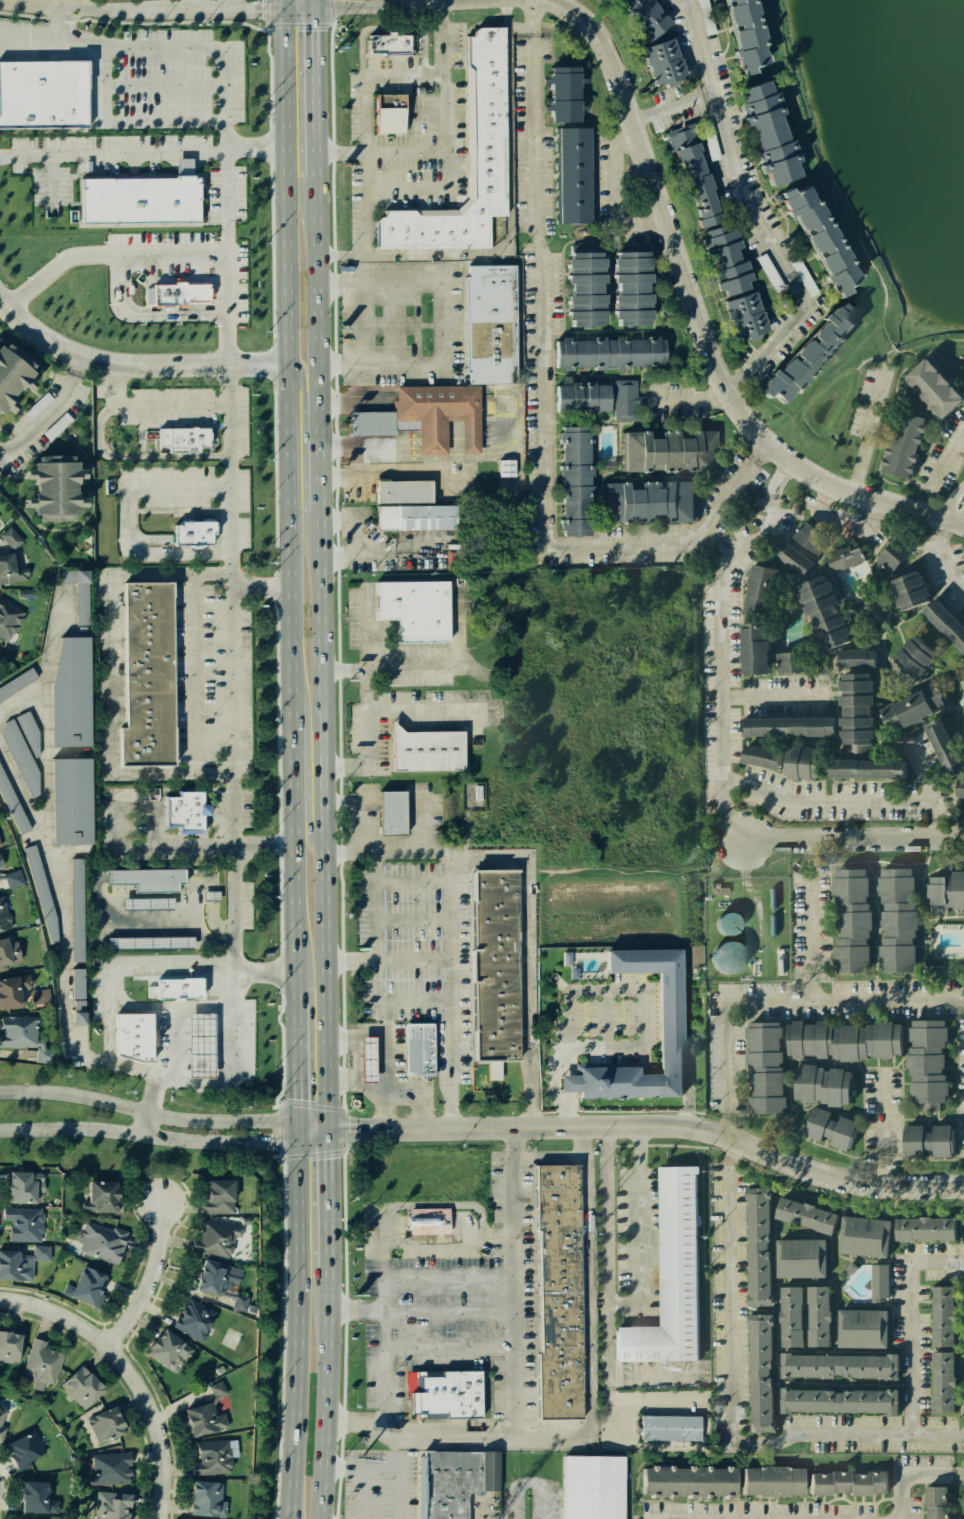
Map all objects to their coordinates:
road: (366, 6)
traffic signals: (313, 7)
road: (172, 9)
traffic signals: (283, 9)
building: (640, 16)
road: (62, 18)
road: (390, 28)
building: (740, 32)
road: (440, 40)
building: (386, 44)
road: (701, 45)
building: (658, 61)
road: (409, 77)
road: (162, 82)
building: (559, 92)
building: (45, 93)
road: (226, 93)
road: (677, 106)
building: (385, 112)
building: (483, 112)
road: (123, 118)
building: (763, 129)
road: (142, 152)
road: (379, 152)
road: (813, 166)
building: (572, 174)
building: (692, 175)
road: (611, 191)
building: (139, 201)
building: (812, 239)
road: (774, 251)
road: (363, 256)
road: (109, 258)
building: (731, 280)
building: (629, 287)
building: (580, 289)
building: (178, 293)
road: (151, 315)
road: (704, 315)
road: (441, 323)
road: (357, 324)
road: (385, 324)
building: (489, 324)
road: (912, 350)
building: (604, 352)
building: (804, 353)
road: (80, 361)
road: (133, 364)
building: (10, 373)
building: (931, 386)
road: (303, 389)
road: (436, 390)
road: (355, 393)
building: (578, 396)
building: (622, 400)
road: (698, 400)
building: (36, 405)
road: (149, 405)
road: (542, 405)
building: (418, 409)
road: (518, 415)
road: (41, 418)
road: (867, 434)
building: (469, 436)
building: (179, 440)
building: (430, 441)
road: (959, 443)
building: (900, 444)
road: (387, 445)
road: (431, 446)
road: (453, 446)
road: (470, 446)
building: (667, 450)
road: (947, 452)
road: (135, 456)
road: (358, 460)
building: (505, 467)
road: (228, 471)
building: (572, 480)
building: (60, 489)
building: (402, 491)
road: (821, 499)
road: (953, 499)
building: (647, 501)
road: (127, 516)
building: (416, 517)
road: (874, 518)
road: (840, 523)
building: (189, 531)
road: (358, 536)
building: (11, 538)
building: (812, 538)
road: (400, 548)
building: (887, 549)
building: (837, 551)
road: (950, 553)
building: (788, 557)
building: (11, 568)
building: (901, 587)
road: (260, 588)
building: (80, 593)
building: (413, 609)
building: (818, 610)
building: (751, 614)
building: (9, 619)
building: (942, 624)
road: (463, 627)
road: (364, 629)
road: (720, 635)
building: (786, 654)
building: (899, 659)
road: (403, 667)
building: (143, 673)
road: (192, 674)
building: (14, 679)
road: (42, 683)
building: (62, 692)
road: (230, 692)
road: (114, 694)
building: (851, 697)
road: (767, 703)
building: (910, 703)
building: (781, 719)
building: (30, 734)
building: (423, 749)
building: (941, 752)
building: (20, 756)
building: (770, 758)
road: (291, 759)
road: (320, 759)
building: (804, 763)
building: (859, 767)
building: (961, 788)
building: (64, 796)
road: (858, 802)
building: (8, 809)
building: (385, 811)
building: (180, 812)
road: (306, 816)
road: (855, 836)
building: (0, 844)
road: (142, 847)
building: (1, 861)
building: (144, 877)
building: (9, 879)
road: (52, 880)
road: (416, 883)
building: (953, 887)
building: (37, 895)
building: (207, 895)
building: (141, 902)
building: (3, 916)
building: (894, 918)
building: (847, 919)
road: (818, 920)
road: (416, 921)
storage tank: (720, 922)
building: (728, 923)
road: (453, 927)
building: (73, 935)
building: (147, 940)
building: (949, 942)
building: (5, 951)
parking lot: (417, 953)
storage tank: (720, 956)
building: (728, 957)
road: (175, 958)
road: (525, 959)
road: (352, 961)
road: (417, 961)
road: (380, 962)
building: (496, 964)
road: (263, 971)
building: (172, 986)
building: (11, 988)
building: (37, 993)
road: (783, 1005)
road: (106, 1008)
building: (666, 1019)
road: (224, 1028)
building: (17, 1032)
building: (127, 1033)
road: (640, 1036)
building: (838, 1039)
building: (201, 1045)
road: (387, 1046)
building: (416, 1049)
gas station: (363, 1055)
building: (369, 1058)
road: (99, 1060)
building: (924, 1061)
building: (761, 1067)
building: (816, 1085)
road: (392, 1097)
road: (147, 1112)
traffic signals: (296, 1122)
road: (310, 1127)
road: (524, 1127)
building: (827, 1129)
traffic signals: (325, 1132)
road: (887, 1132)
road: (147, 1136)
road: (310, 1137)
building: (925, 1139)
traffic signals: (296, 1142)
road: (550, 1158)
road: (839, 1181)
building: (15, 1186)
building: (97, 1193)
building: (214, 1194)
road: (430, 1204)
building: (802, 1215)
building: (427, 1219)
building: (20, 1222)
building: (914, 1227)
road: (636, 1228)
building: (213, 1235)
building: (858, 1236)
building: (99, 1242)
building: (755, 1247)
building: (38, 1252)
building: (798, 1257)
building: (13, 1264)
road: (384, 1267)
road: (587, 1275)
building: (668, 1276)
building: (204, 1277)
road: (145, 1280)
building: (879, 1280)
road: (515, 1283)
building: (83, 1284)
building: (554, 1292)
building: (237, 1300)
road: (355, 1308)
building: (816, 1314)
building: (937, 1314)
building: (789, 1316)
building: (191, 1319)
road: (914, 1327)
building: (857, 1328)
road: (91, 1338)
building: (159, 1345)
building: (7, 1347)
road: (449, 1348)
building: (40, 1365)
building: (837, 1367)
building: (755, 1373)
road: (731, 1375)
building: (939, 1382)
building: (78, 1386)
building: (218, 1390)
building: (440, 1393)
road: (656, 1398)
building: (836, 1402)
building: (197, 1413)
building: (1, 1419)
road: (608, 1422)
building: (99, 1423)
building: (666, 1430)
road: (938, 1436)
building: (20, 1444)
building: (234, 1448)
building: (206, 1459)
building: (107, 1467)
road: (154, 1468)
road: (385, 1468)
road: (914, 1475)
building: (844, 1478)
building: (766, 1479)
building: (452, 1481)
building: (681, 1482)
building: (588, 1490)
building: (28, 1493)
road: (356, 1493)
building: (202, 1497)
road: (546, 1502)
building: (932, 1502)
building: (102, 1505)
building: (15, 1518)

